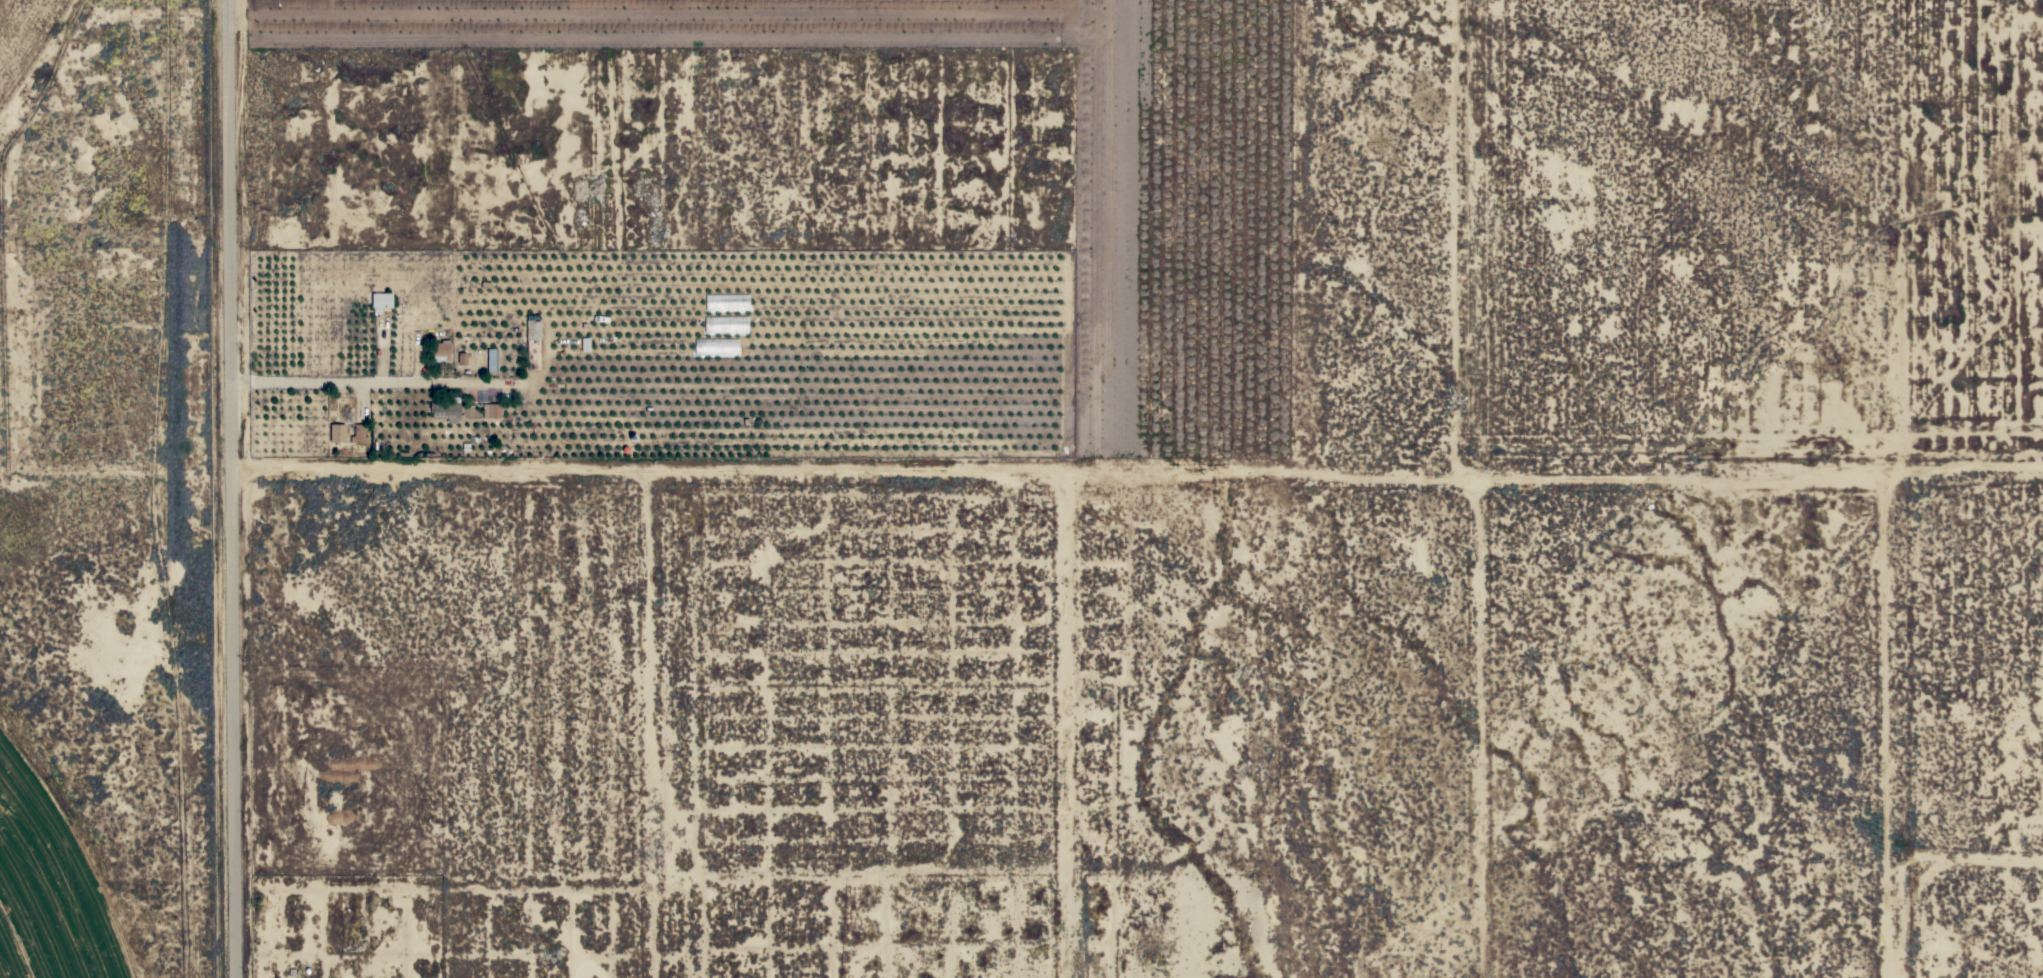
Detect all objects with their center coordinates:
crop: (29, 42)
building: (381, 300)
building: (532, 342)
building: (440, 350)
building: (491, 360)
road: (368, 383)
building: (446, 409)
building: (491, 410)
building: (336, 433)
building: (357, 433)
road: (1131, 477)
road: (109, 484)
road: (218, 488)
crop: (51, 878)

